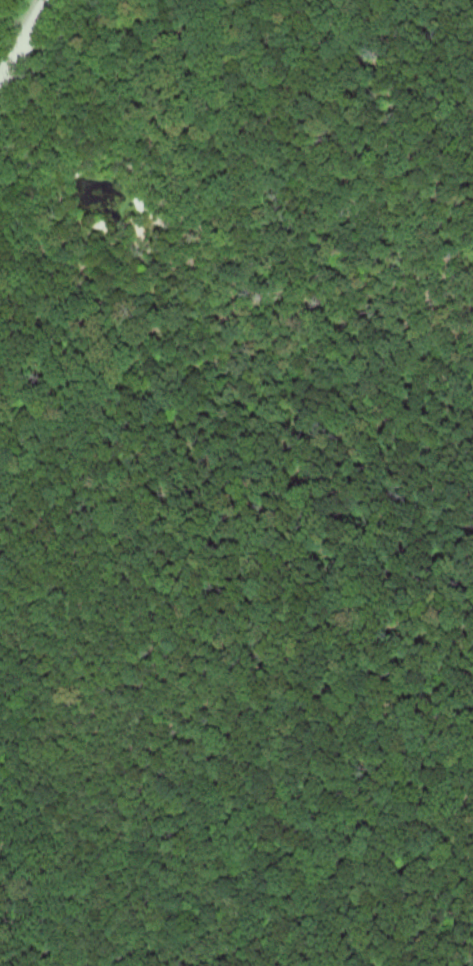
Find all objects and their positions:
road: (37, 73)

